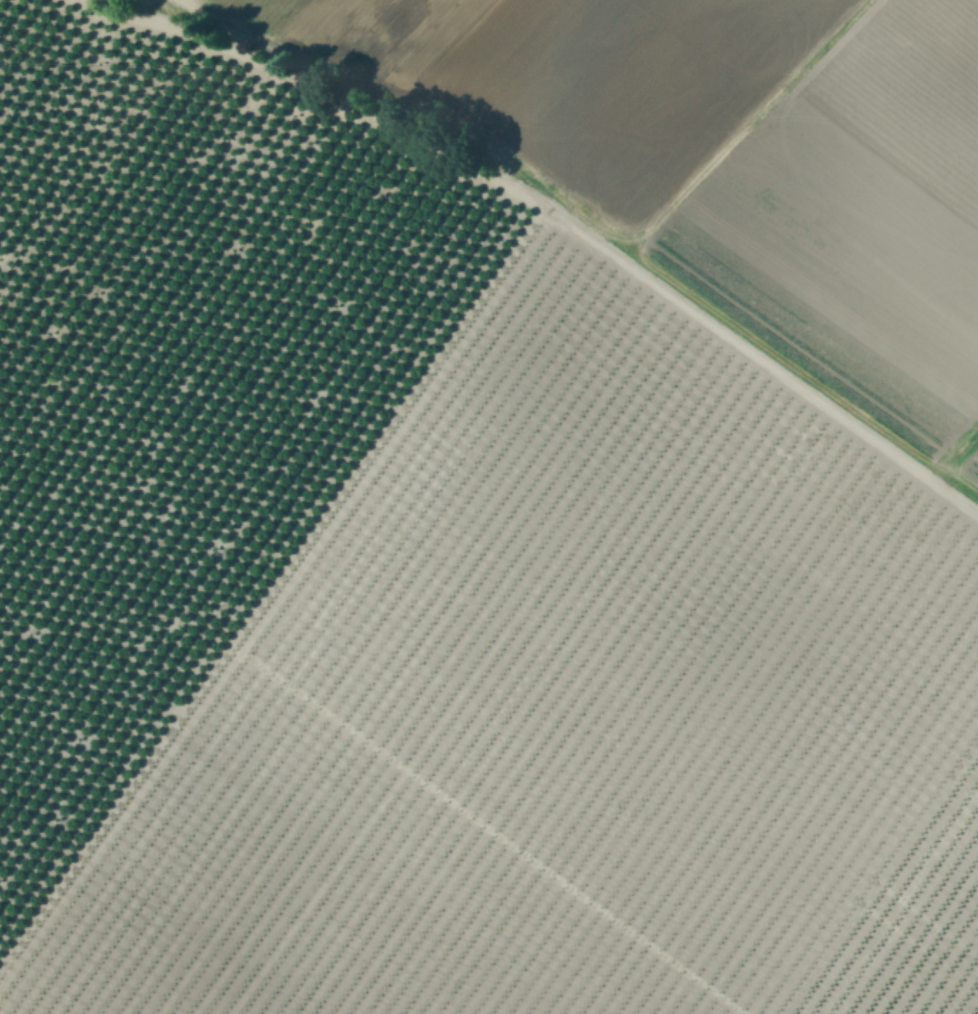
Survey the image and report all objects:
crop: (622, 562)

